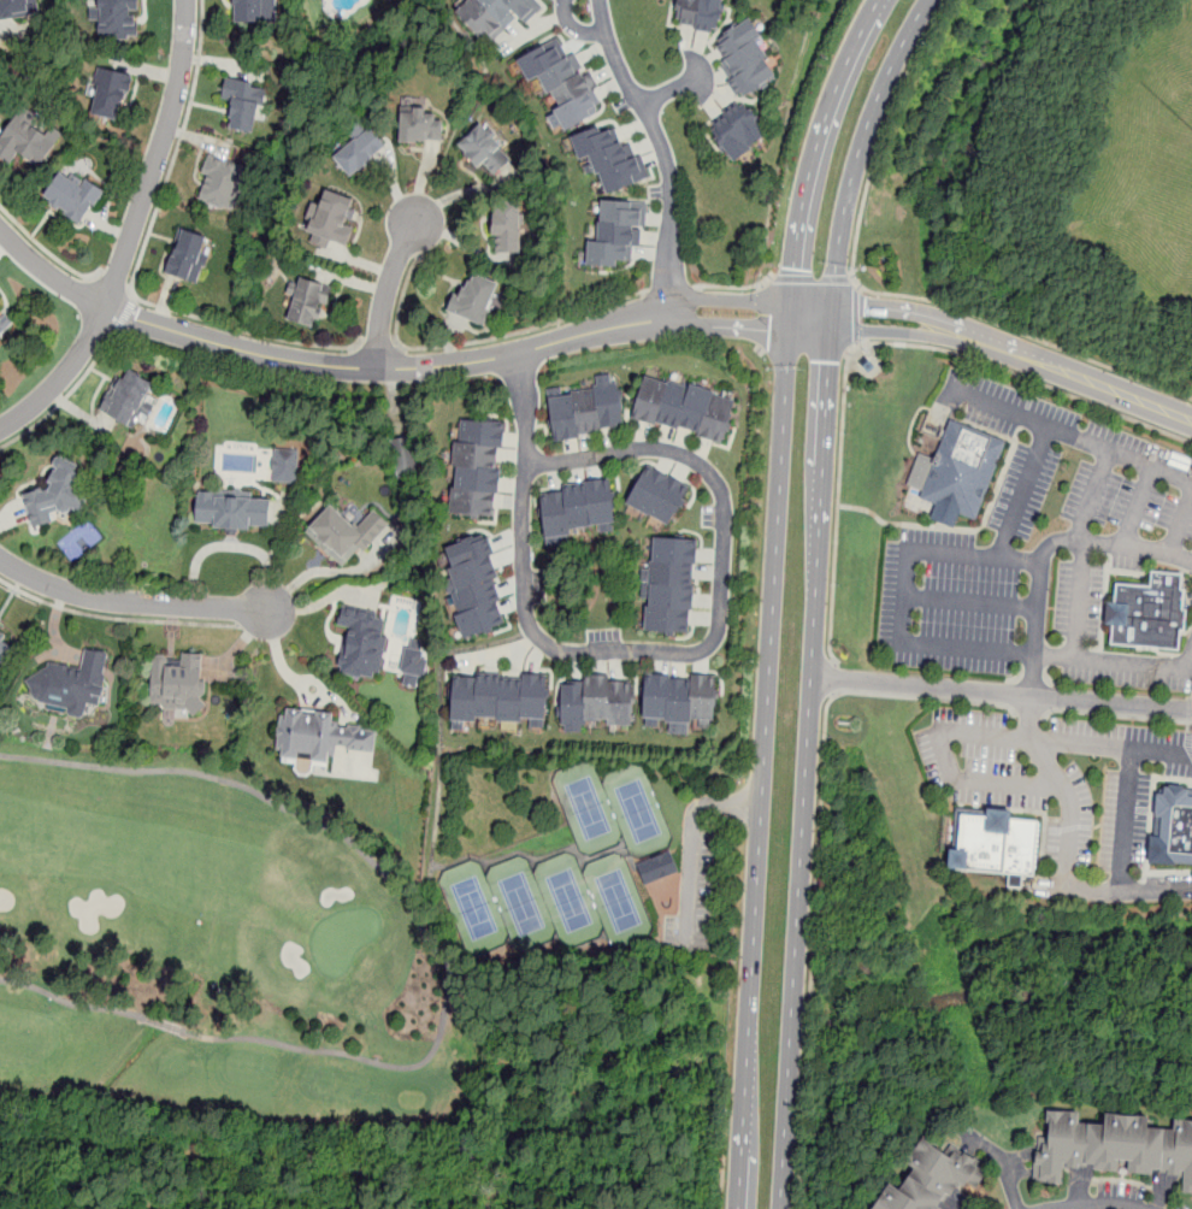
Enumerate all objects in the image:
building: (17, 8)
building: (254, 11)
building: (698, 14)
building: (497, 17)
building: (116, 19)
road: (574, 28)
building: (745, 59)
building: (562, 83)
road: (671, 92)
building: (110, 94)
building: (243, 104)
building: (421, 128)
building: (737, 131)
building: (28, 138)
road: (860, 146)
building: (484, 149)
road: (662, 151)
building: (358, 152)
building: (609, 155)
road: (157, 157)
road: (818, 158)
building: (223, 182)
building: (71, 195)
building: (332, 220)
building: (508, 228)
building: (618, 234)
road: (47, 250)
building: (188, 254)
road: (137, 265)
traffic signals: (798, 270)
road: (48, 273)
road: (813, 278)
road: (113, 283)
road: (738, 287)
road: (669, 288)
road: (880, 293)
road: (385, 294)
building: (476, 299)
road: (730, 300)
building: (308, 303)
road: (813, 303)
traffic signals: (865, 307)
road: (890, 308)
road: (125, 313)
road: (856, 313)
building: (2, 324)
road: (730, 326)
traffic signals: (769, 328)
road: (867, 329)
road: (478, 342)
road: (868, 342)
road: (379, 347)
traffic signals: (828, 362)
road: (388, 367)
road: (1069, 372)
road: (63, 377)
road: (65, 396)
building: (128, 397)
building: (684, 406)
road: (525, 409)
building: (584, 409)
road: (1070, 438)
building: (285, 465)
building: (477, 468)
building: (966, 471)
building: (57, 495)
building: (657, 495)
road: (1023, 495)
building: (577, 508)
road: (1141, 509)
building: (232, 511)
road: (1181, 526)
building: (344, 535)
road: (1085, 554)
building: (476, 584)
building: (671, 585)
road: (1040, 592)
road: (129, 603)
road: (973, 603)
building: (1150, 614)
road: (116, 618)
building: (362, 642)
road: (939, 647)
building: (5, 648)
road: (279, 649)
road: (625, 650)
building: (413, 665)
road: (833, 678)
building: (177, 683)
building: (66, 685)
road: (1002, 695)
building: (679, 697)
road: (925, 697)
road: (307, 698)
building: (497, 700)
building: (595, 703)
building: (319, 736)
road: (989, 737)
road: (442, 742)
road: (807, 756)
road: (763, 767)
park: (589, 810)
park: (639, 813)
building: (1176, 830)
building: (998, 843)
road: (692, 849)
road: (543, 860)
building: (660, 871)
road: (399, 884)
road: (1108, 892)
road: (1157, 892)
park: (571, 902)
park: (620, 903)
park: (523, 906)
park: (476, 909)
park: (210, 948)
road: (813, 950)
road: (70, 1003)
building: (1119, 1145)
road: (725, 1150)
building: (932, 1175)
road: (1096, 1208)

